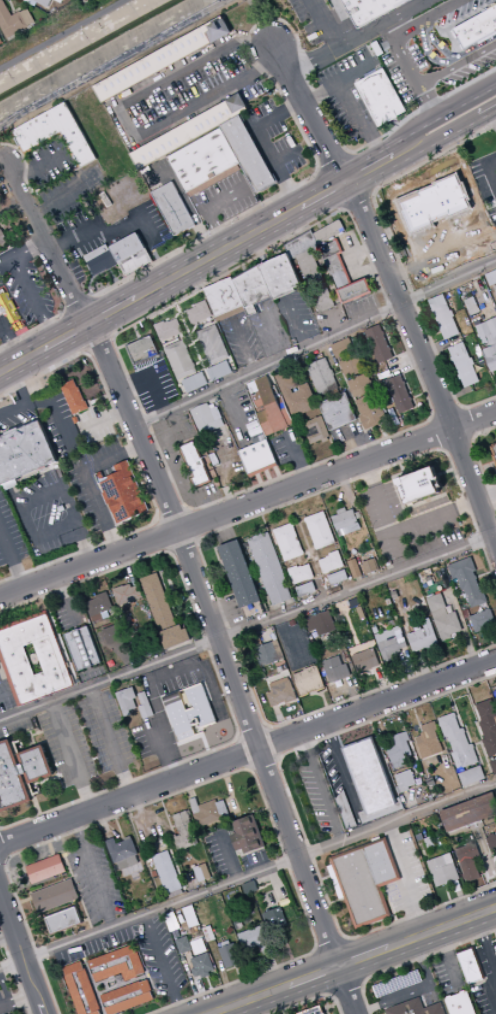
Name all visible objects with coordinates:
building: (58, 1)
building: (42, 2)
building: (368, 9)
road: (438, 11)
building: (13, 20)
road: (262, 21)
road: (325, 24)
building: (475, 28)
road: (404, 30)
road: (357, 37)
building: (1, 41)
road: (432, 49)
building: (162, 59)
road: (112, 62)
road: (458, 64)
road: (411, 71)
road: (338, 77)
road: (465, 91)
building: (379, 97)
road: (487, 111)
road: (310, 113)
road: (493, 115)
road: (122, 117)
road: (441, 117)
road: (362, 119)
road: (329, 120)
building: (188, 131)
building: (55, 134)
road: (438, 139)
road: (263, 143)
building: (247, 153)
road: (349, 153)
road: (287, 155)
building: (202, 159)
road: (25, 161)
road: (335, 162)
road: (2, 165)
road: (489, 165)
road: (35, 167)
road: (370, 169)
road: (320, 170)
road: (359, 173)
road: (335, 189)
road: (284, 192)
road: (372, 194)
road: (323, 195)
road: (65, 197)
road: (358, 200)
building: (442, 201)
road: (90, 206)
building: (174, 209)
road: (207, 209)
road: (347, 210)
road: (94, 225)
building: (328, 232)
road: (358, 233)
building: (3, 236)
building: (301, 245)
road: (445, 248)
road: (152, 250)
road: (21, 251)
road: (394, 252)
road: (218, 253)
building: (131, 254)
road: (463, 258)
building: (99, 259)
road: (354, 265)
road: (244, 268)
building: (341, 274)
building: (279, 276)
building: (491, 277)
building: (314, 281)
building: (495, 287)
building: (251, 290)
road: (192, 298)
road: (33, 299)
building: (223, 299)
road: (81, 304)
building: (471, 306)
building: (8, 307)
road: (1, 312)
road: (65, 312)
road: (114, 312)
building: (198, 312)
road: (164, 315)
road: (103, 316)
building: (443, 316)
road: (298, 322)
road: (332, 322)
road: (34, 329)
building: (167, 329)
road: (78, 330)
road: (137, 331)
road: (188, 331)
building: (487, 331)
road: (273, 335)
road: (113, 337)
road: (67, 338)
road: (9, 339)
road: (134, 341)
road: (100, 342)
road: (316, 343)
building: (212, 344)
building: (378, 344)
road: (244, 346)
building: (342, 348)
building: (142, 349)
road: (87, 351)
building: (490, 357)
building: (179, 359)
road: (405, 361)
road: (21, 362)
road: (200, 362)
road: (424, 362)
building: (463, 364)
building: (351, 366)
building: (218, 371)
building: (321, 377)
road: (150, 378)
building: (193, 382)
building: (359, 385)
building: (294, 394)
building: (399, 394)
road: (418, 395)
building: (73, 397)
road: (23, 399)
building: (270, 407)
road: (461, 408)
building: (336, 411)
building: (370, 411)
road: (235, 413)
road: (448, 415)
building: (206, 417)
road: (433, 418)
road: (103, 419)
building: (76, 420)
road: (465, 424)
building: (315, 430)
road: (381, 432)
road: (441, 433)
road: (457, 443)
road: (333, 446)
building: (25, 452)
building: (493, 452)
building: (257, 458)
road: (297, 458)
road: (478, 462)
building: (195, 464)
road: (490, 465)
road: (140, 467)
building: (99, 475)
road: (89, 481)
building: (421, 488)
road: (347, 489)
building: (123, 494)
road: (487, 496)
road: (230, 497)
road: (67, 500)
road: (248, 506)
parking lot: (47, 512)
road: (177, 515)
building: (344, 518)
road: (21, 519)
road: (159, 520)
road: (265, 522)
road: (299, 523)
road: (52, 528)
road: (224, 528)
building: (319, 530)
parking lot: (10, 534)
road: (167, 535)
road: (306, 539)
road: (199, 540)
building: (288, 542)
road: (185, 543)
road: (171, 550)
road: (308, 550)
road: (318, 557)
road: (41, 558)
road: (203, 559)
road: (11, 560)
road: (190, 561)
road: (156, 562)
building: (331, 562)
road: (126, 566)
building: (370, 566)
building: (269, 568)
building: (354, 568)
building: (238, 574)
building: (301, 574)
road: (484, 574)
building: (337, 577)
road: (312, 579)
building: (466, 580)
road: (489, 588)
building: (305, 589)
building: (125, 594)
road: (68, 601)
building: (158, 602)
building: (99, 607)
road: (190, 614)
building: (443, 618)
building: (482, 620)
building: (321, 623)
building: (98, 628)
road: (248, 628)
road: (462, 628)
building: (116, 633)
building: (108, 635)
building: (173, 636)
building: (422, 637)
road: (289, 642)
building: (390, 642)
building: (82, 649)
building: (266, 651)
building: (32, 659)
building: (365, 660)
road: (249, 661)
building: (335, 669)
road: (424, 669)
road: (411, 670)
road: (219, 678)
building: (308, 681)
road: (382, 683)
road: (216, 689)
road: (4, 691)
building: (281, 692)
road: (354, 695)
building: (126, 700)
road: (325, 700)
road: (472, 703)
building: (144, 706)
building: (185, 711)
road: (460, 721)
road: (281, 722)
road: (380, 726)
building: (488, 726)
road: (268, 729)
road: (478, 731)
building: (426, 733)
road: (254, 736)
road: (240, 738)
building: (458, 740)
road: (111, 741)
road: (477, 743)
road: (271, 744)
building: (431, 750)
building: (399, 751)
road: (248, 752)
road: (247, 753)
road: (297, 755)
road: (479, 755)
road: (71, 756)
road: (278, 758)
road: (486, 758)
road: (264, 761)
building: (39, 765)
road: (342, 766)
building: (493, 766)
road: (251, 768)
building: (25, 770)
road: (224, 775)
building: (368, 775)
building: (471, 776)
building: (12, 779)
building: (404, 779)
road: (189, 786)
road: (322, 786)
road: (230, 787)
road: (411, 805)
road: (37, 809)
building: (208, 811)
building: (345, 811)
building: (380, 812)
building: (468, 812)
road: (143, 814)
road: (297, 815)
road: (168, 817)
road: (103, 823)
road: (173, 826)
road: (119, 827)
building: (183, 832)
building: (246, 835)
building: (419, 837)
building: (491, 842)
building: (429, 843)
road: (155, 844)
road: (50, 848)
road: (485, 850)
building: (122, 853)
road: (228, 854)
road: (1, 855)
road: (482, 856)
road: (494, 856)
road: (1, 859)
road: (4, 860)
building: (468, 861)
building: (149, 863)
building: (46, 869)
building: (442, 870)
road: (93, 871)
building: (166, 872)
road: (483, 872)
road: (494, 872)
building: (201, 873)
road: (247, 876)
road: (490, 876)
road: (328, 878)
road: (408, 879)
building: (365, 880)
road: (75, 883)
road: (279, 886)
building: (456, 886)
building: (249, 887)
road: (43, 888)
road: (447, 893)
building: (56, 897)
road: (337, 901)
road: (463, 904)
road: (244, 905)
road: (393, 913)
building: (189, 916)
building: (276, 917)
building: (64, 920)
building: (205, 923)
road: (249, 924)
road: (495, 932)
building: (208, 934)
road: (7, 936)
road: (344, 938)
building: (254, 941)
road: (286, 944)
building: (183, 945)
road: (331, 946)
road: (317, 949)
road: (21, 953)
road: (490, 954)
building: (229, 955)
road: (449, 958)
road: (351, 961)
road: (354, 961)
road: (414, 961)
road: (163, 964)
building: (118, 965)
building: (470, 965)
building: (201, 966)
road: (235, 967)
road: (326, 970)
road: (275, 971)
road: (14, 973)
road: (222, 974)
road: (89, 976)
road: (131, 982)
road: (362, 983)
road: (346, 987)
road: (5, 989)
building: (82, 989)
road: (348, 989)
road: (418, 990)
road: (332, 993)
building: (128, 997)
road: (311, 999)
road: (18, 1001)
road: (279, 1002)
building: (459, 1003)
road: (257, 1006)
building: (415, 1008)
building: (313, 1011)

